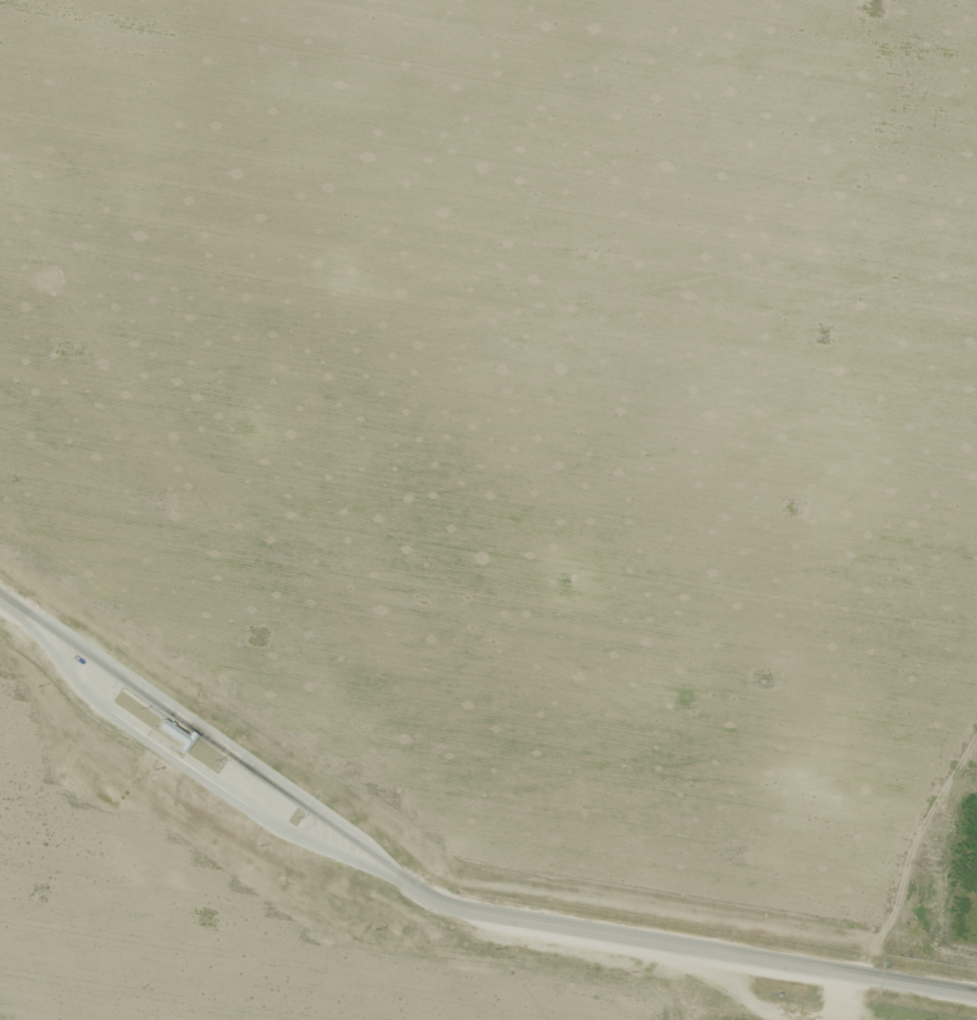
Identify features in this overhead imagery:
road: (444, 903)

